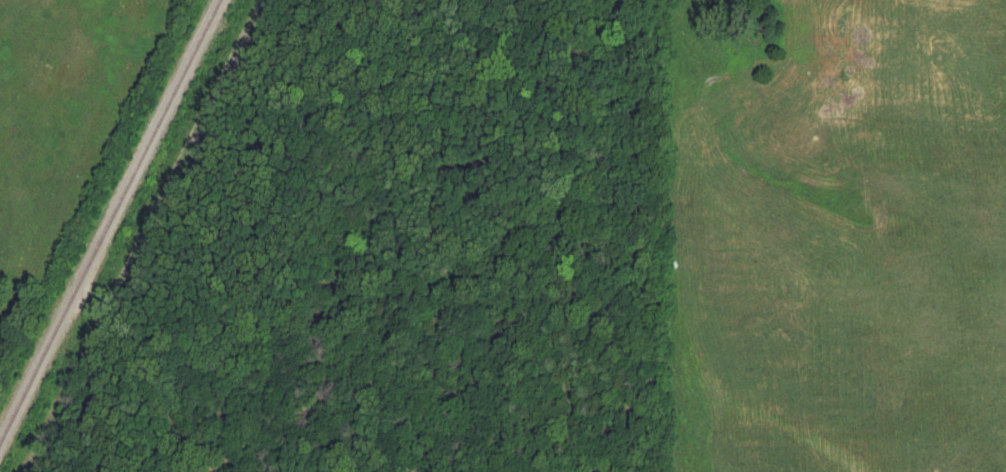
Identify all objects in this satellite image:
railway: (109, 222)

